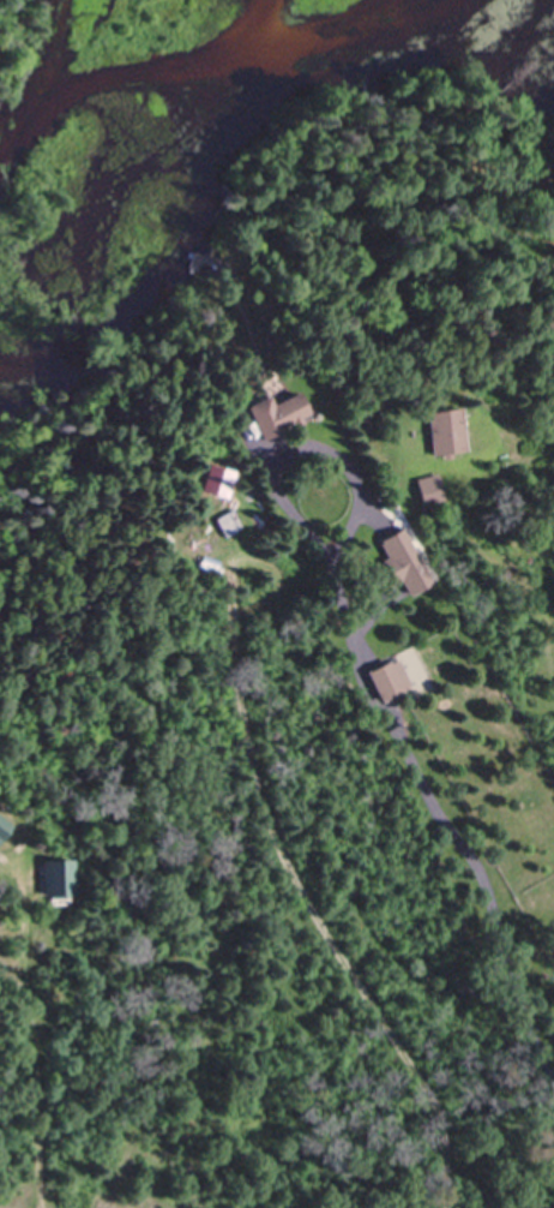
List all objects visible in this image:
river: (110, 50)
building: (271, 408)
building: (441, 425)
road: (307, 445)
building: (423, 484)
building: (223, 515)
building: (397, 555)
road: (498, 556)
building: (383, 671)
road: (439, 814)
building: (2, 820)
building: (53, 869)
road: (314, 903)
road: (37, 1078)

